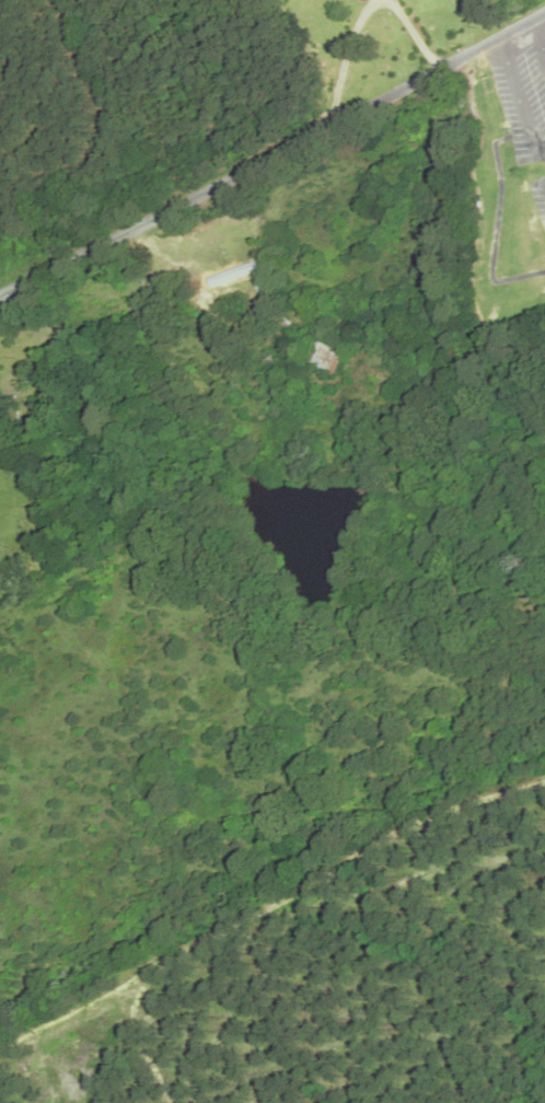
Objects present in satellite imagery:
road: (538, 18)
road: (272, 151)
building: (236, 277)
building: (322, 353)

